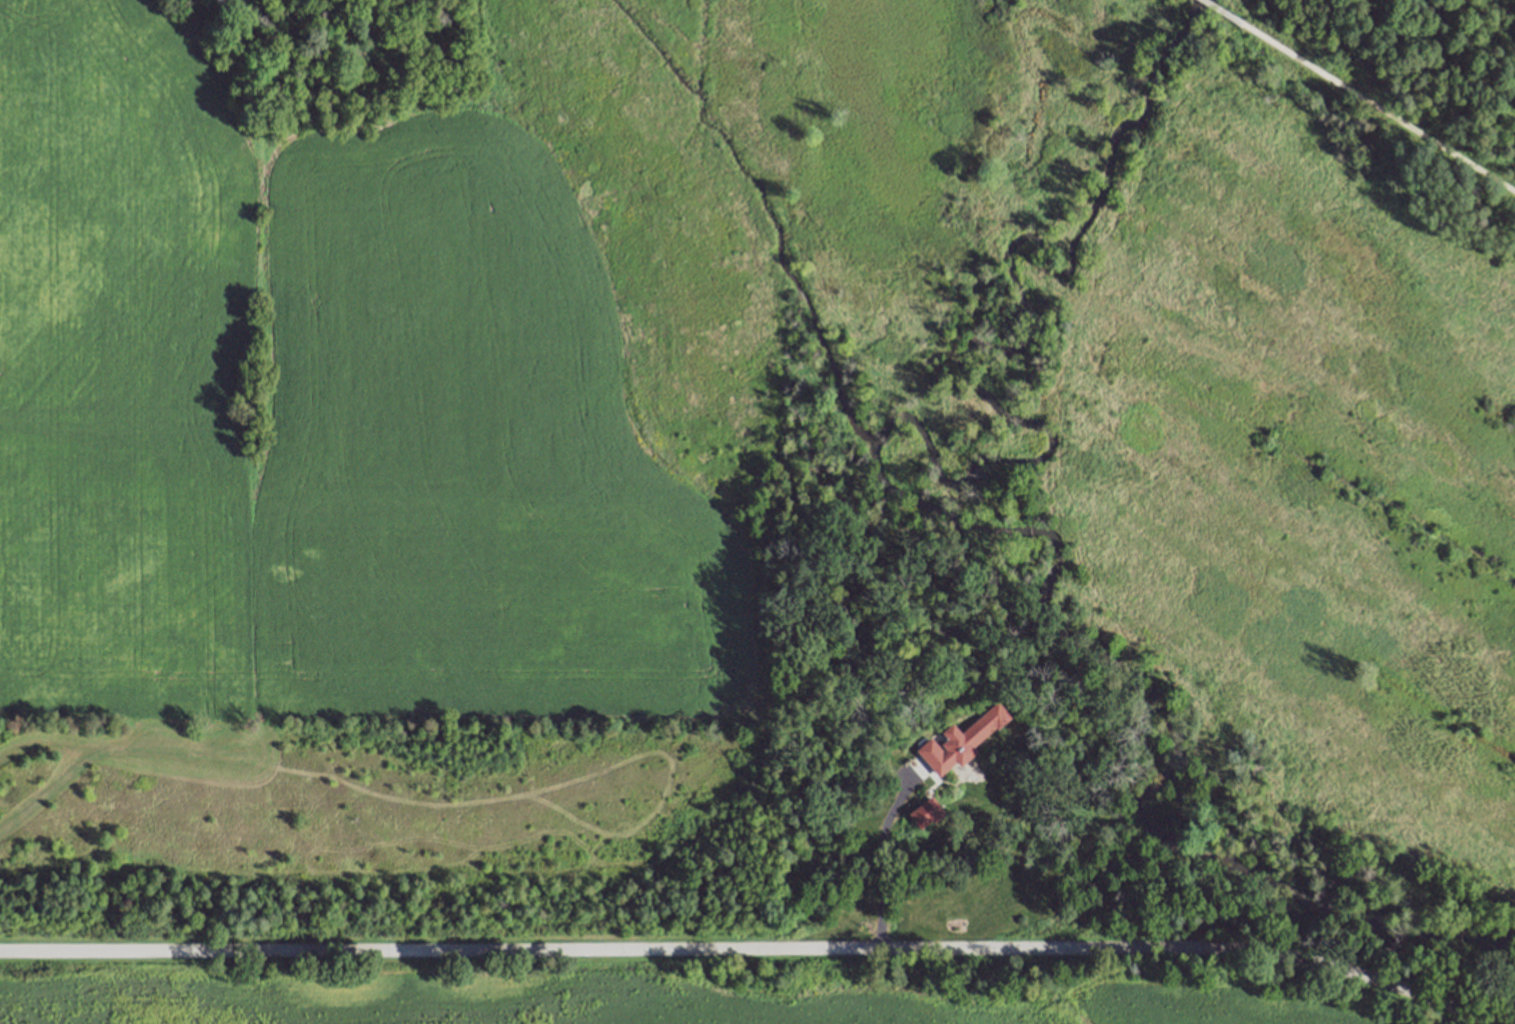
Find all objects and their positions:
building: (396, 2)
road: (1220, 13)
road: (1378, 110)
building: (962, 739)
building: (927, 812)
road: (880, 867)
road: (752, 949)

